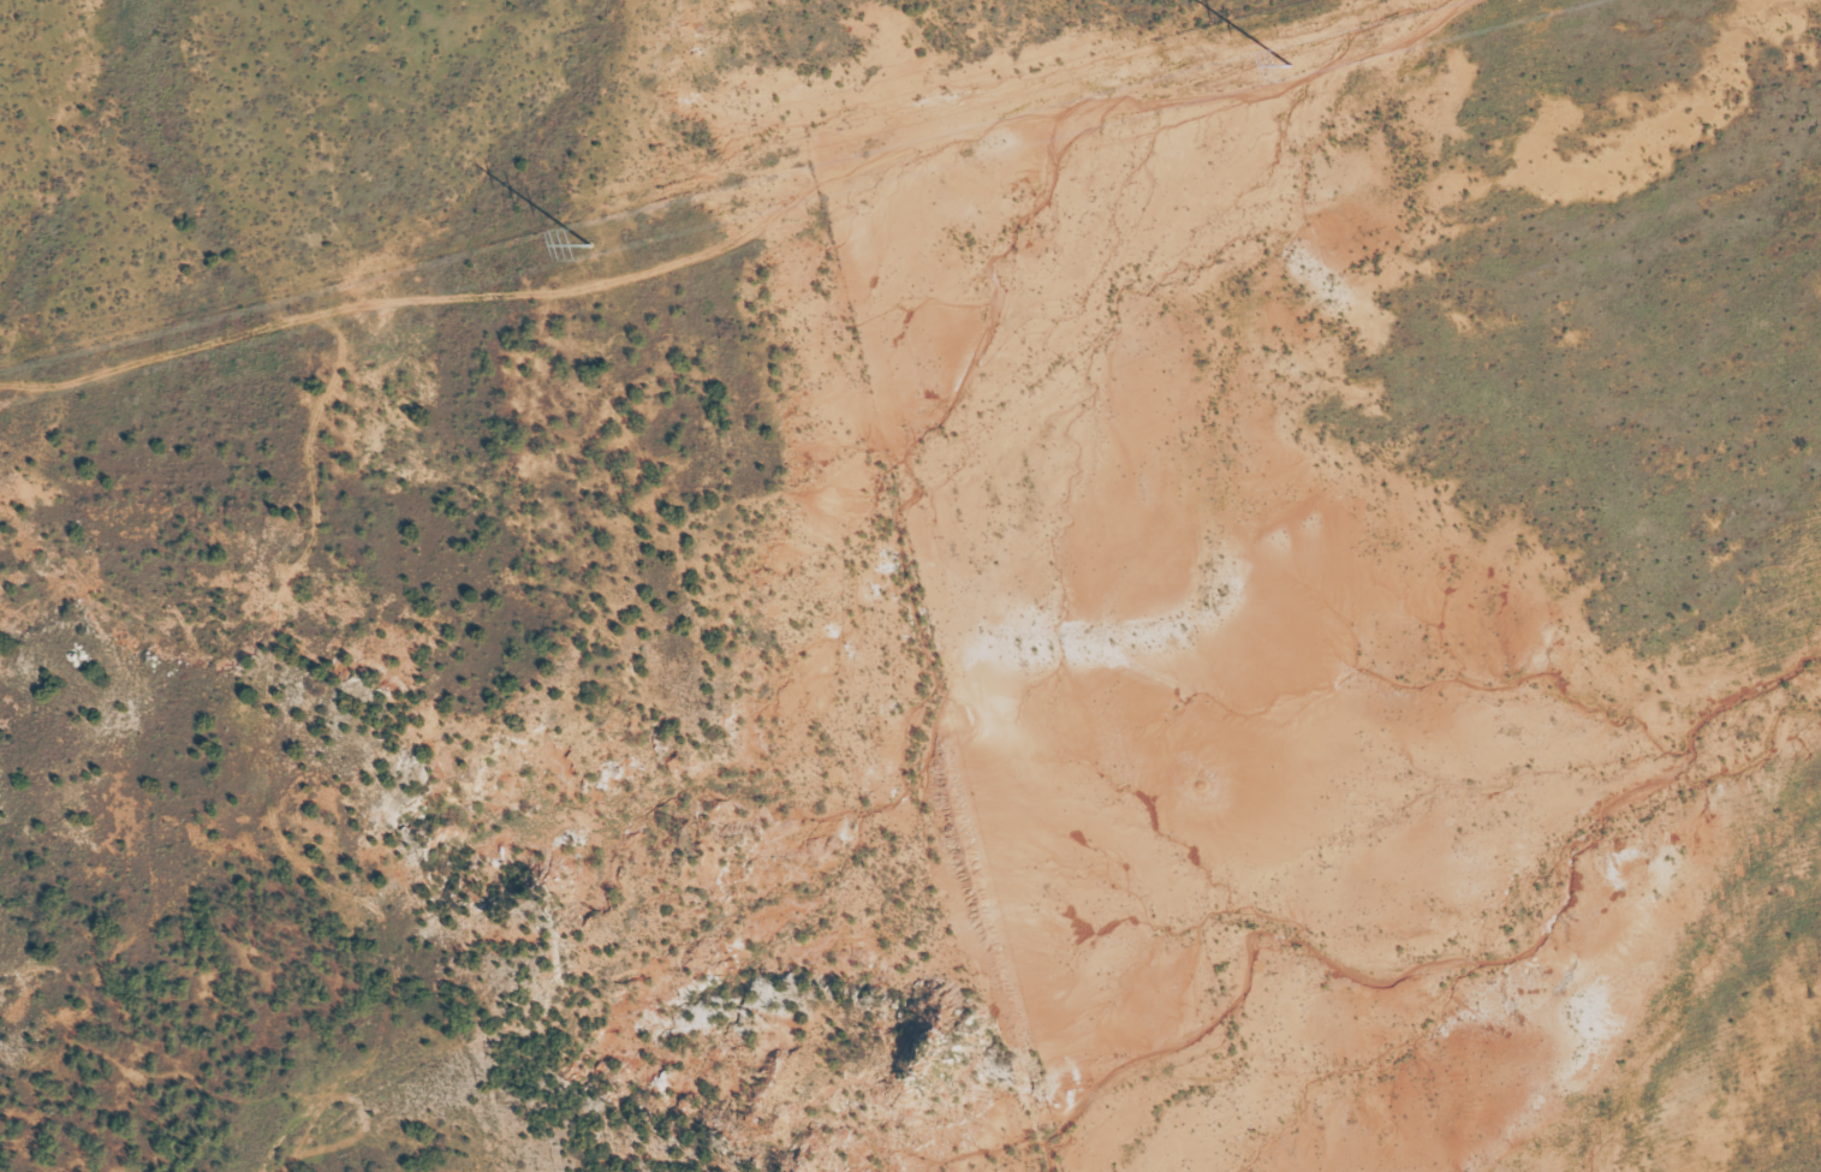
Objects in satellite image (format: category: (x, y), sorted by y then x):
power tower: (1291, 65)
power tower: (591, 245)

